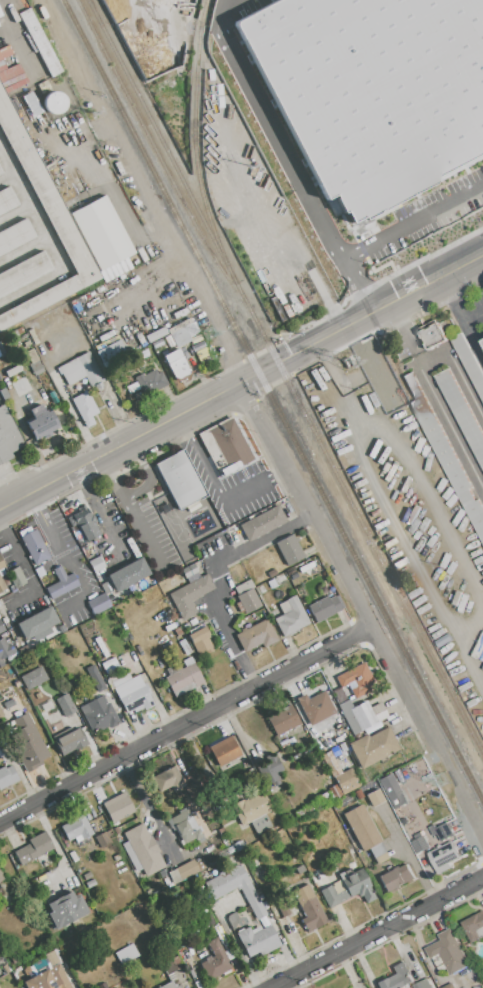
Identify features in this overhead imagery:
building: (40, 43)
building: (13, 76)
building: (372, 90)
power tower: (93, 114)
railway: (196, 130)
road: (288, 156)
railway: (172, 159)
building: (71, 203)
road: (412, 223)
building: (34, 233)
building: (100, 234)
road: (51, 239)
building: (115, 269)
road: (183, 280)
road: (146, 285)
road: (457, 307)
building: (68, 313)
road: (359, 316)
road: (405, 333)
power tower: (208, 334)
building: (155, 335)
building: (432, 335)
building: (180, 337)
road: (474, 339)
building: (0, 346)
building: (143, 354)
building: (112, 355)
building: (469, 362)
building: (177, 364)
power tower: (348, 365)
building: (36, 368)
building: (209, 369)
building: (82, 370)
railway: (284, 374)
road: (458, 375)
building: (151, 381)
road: (341, 383)
building: (133, 388)
building: (392, 389)
building: (4, 394)
building: (137, 395)
railway: (273, 401)
building: (85, 408)
building: (461, 412)
building: (42, 422)
road: (451, 428)
building: (7, 437)
road: (118, 443)
building: (226, 446)
road: (199, 458)
building: (451, 468)
road: (147, 473)
road: (110, 477)
building: (181, 479)
road: (254, 487)
building: (193, 506)
road: (431, 508)
road: (95, 514)
building: (263, 523)
building: (85, 524)
road: (52, 528)
road: (140, 534)
building: (35, 547)
road: (406, 547)
building: (289, 550)
building: (1, 564)
building: (97, 564)
road: (25, 568)
building: (189, 571)
building: (128, 574)
building: (16, 577)
road: (219, 579)
building: (277, 581)
building: (59, 582)
building: (4, 583)
building: (106, 587)
building: (323, 589)
building: (190, 595)
building: (247, 596)
building: (98, 604)
building: (324, 608)
road: (361, 610)
building: (291, 616)
building: (5, 621)
building: (193, 622)
building: (37, 623)
building: (186, 626)
building: (1, 627)
building: (256, 636)
building: (131, 638)
building: (201, 641)
building: (5, 649)
building: (23, 649)
road: (466, 660)
building: (108, 663)
building: (33, 678)
building: (95, 678)
building: (184, 679)
building: (356, 680)
building: (72, 687)
building: (132, 693)
building: (37, 696)
building: (65, 705)
building: (47, 707)
building: (315, 707)
building: (1, 713)
building: (99, 715)
building: (362, 715)
building: (283, 719)
road: (185, 725)
building: (337, 739)
building: (26, 742)
building: (70, 742)
building: (283, 744)
building: (342, 747)
building: (373, 747)
building: (224, 751)
building: (308, 752)
building: (335, 752)
building: (270, 770)
road: (18, 771)
building: (7, 777)
building: (168, 779)
building: (346, 779)
power tower: (442, 779)
building: (192, 789)
building: (392, 791)
building: (335, 792)
building: (270, 793)
building: (358, 794)
building: (323, 797)
building: (375, 797)
building: (117, 807)
road: (149, 808)
building: (253, 812)
building: (185, 827)
building: (361, 827)
building: (76, 829)
building: (440, 829)
building: (115, 831)
building: (222, 831)
building: (102, 839)
building: (419, 842)
road: (56, 845)
building: (239, 845)
building: (350, 846)
building: (34, 848)
building: (317, 848)
building: (144, 850)
building: (377, 850)
building: (352, 851)
building: (306, 854)
building: (72, 856)
building: (131, 856)
building: (356, 856)
building: (443, 856)
building: (117, 857)
building: (381, 858)
building: (252, 860)
building: (304, 860)
building: (321, 860)
building: (175, 863)
building: (200, 865)
building: (163, 874)
building: (181, 875)
building: (318, 875)
building: (86, 876)
building: (174, 876)
building: (1, 877)
building: (396, 877)
building: (168, 881)
building: (309, 882)
building: (90, 883)
building: (348, 888)
building: (249, 895)
building: (309, 908)
building: (283, 909)
building: (64, 910)
building: (209, 920)
building: (234, 920)
building: (473, 926)
building: (69, 930)
road: (378, 932)
building: (257, 941)
road: (236, 947)
building: (447, 952)
building: (126, 954)
building: (51, 958)
building: (215, 960)
building: (169, 966)
building: (6, 968)
building: (472, 974)
building: (396, 977)
building: (49, 979)
building: (482, 979)
building: (422, 984)
building: (478, 984)
building: (103, 985)
building: (170, 985)
building: (449, 986)

